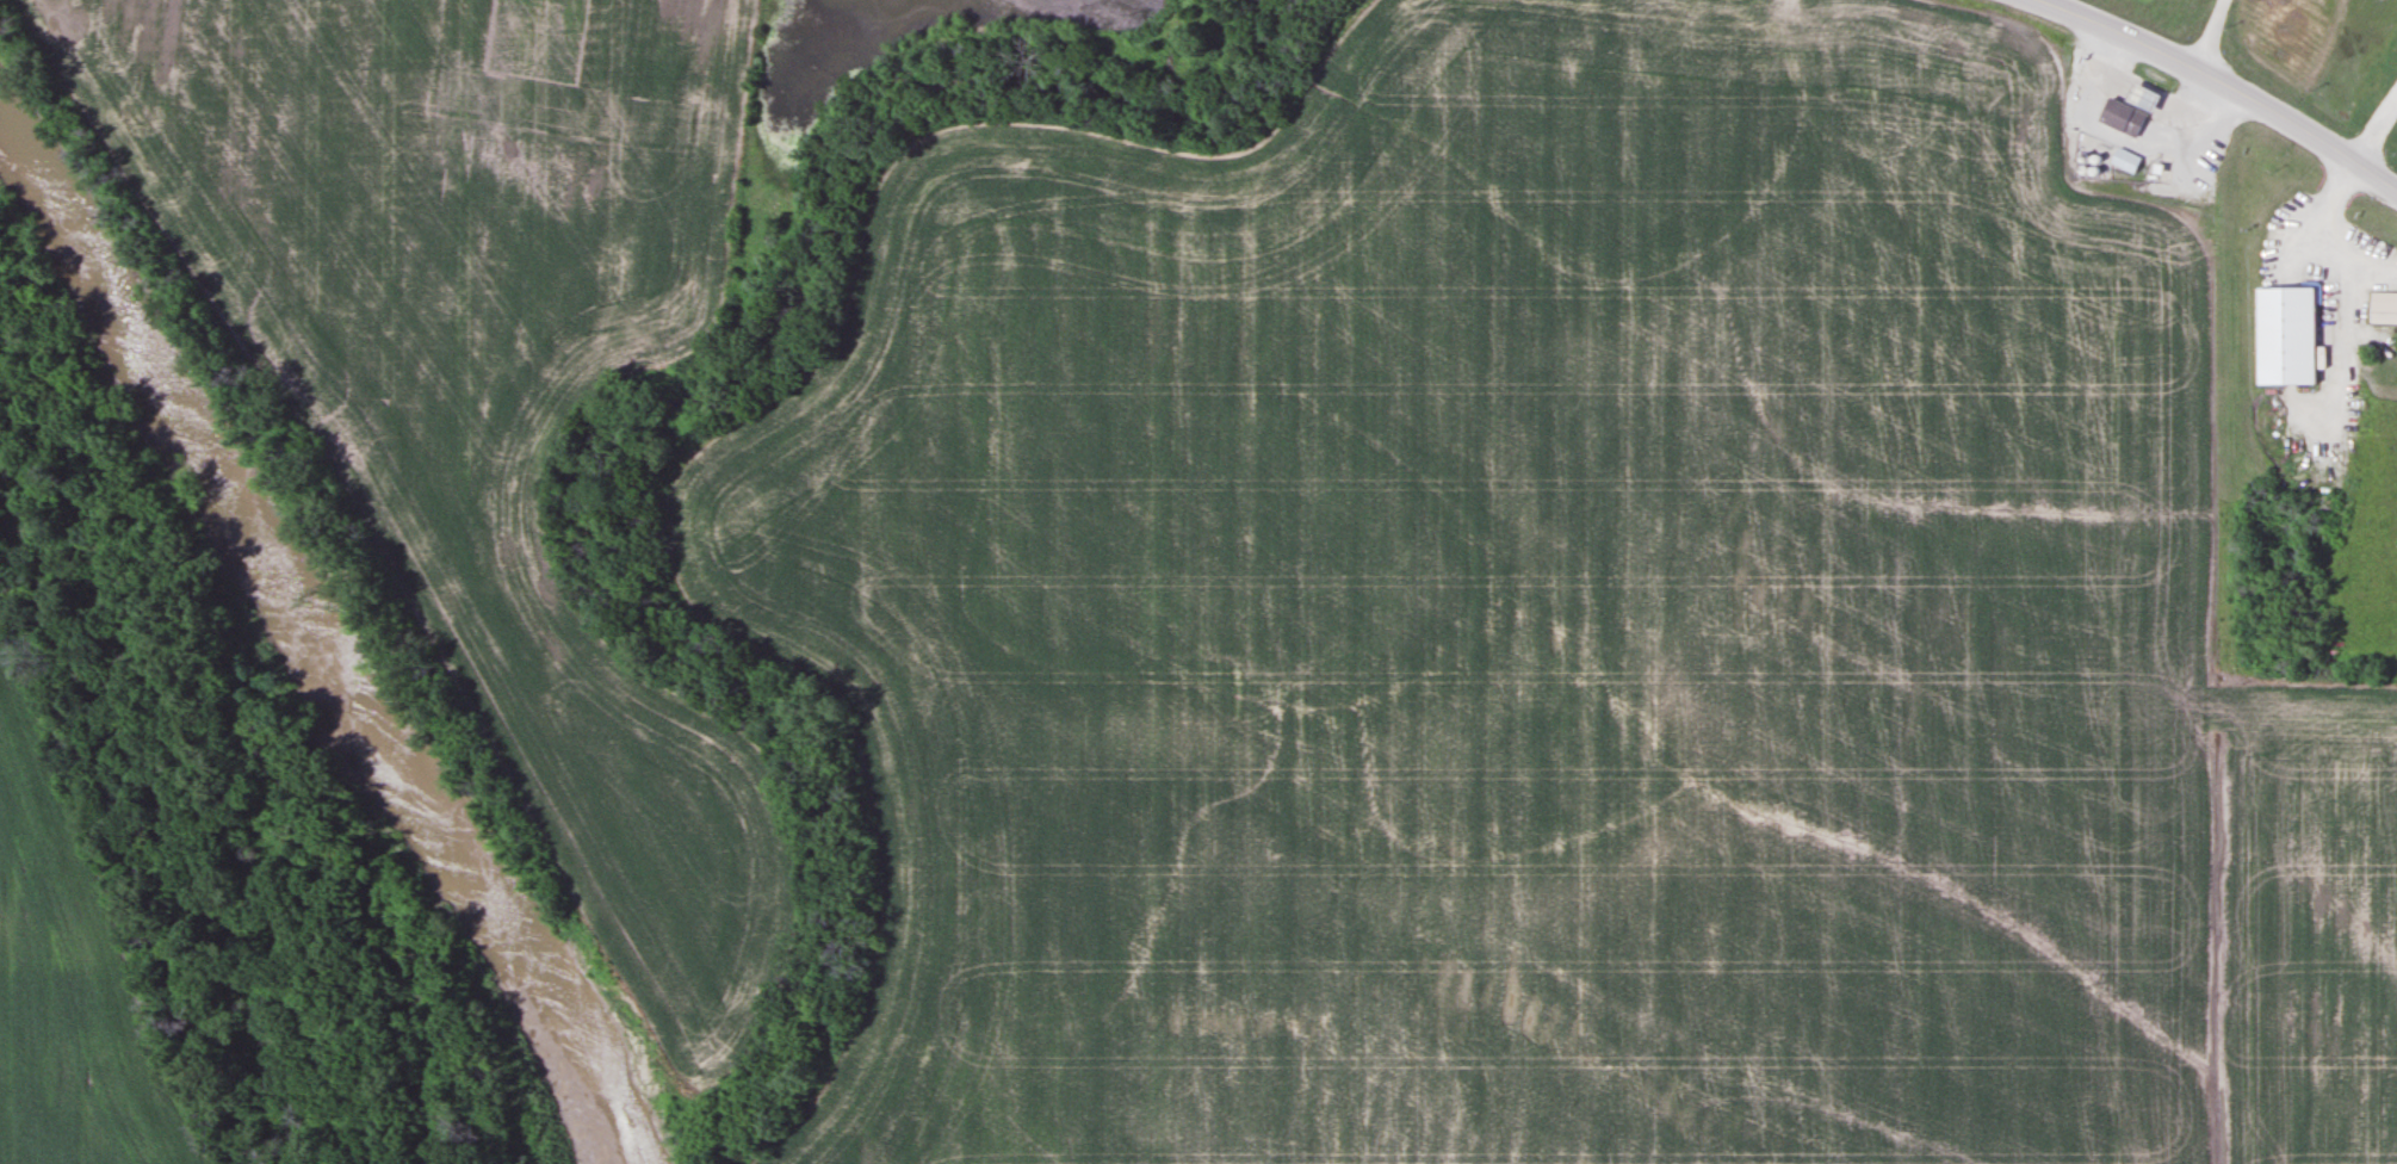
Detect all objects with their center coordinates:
road: (2222, 82)
building: (2124, 110)
building: (2122, 160)
building: (2380, 308)
building: (2280, 335)
crop: (488, 382)
crop: (1559, 636)
river: (312, 652)
crop: (67, 974)

